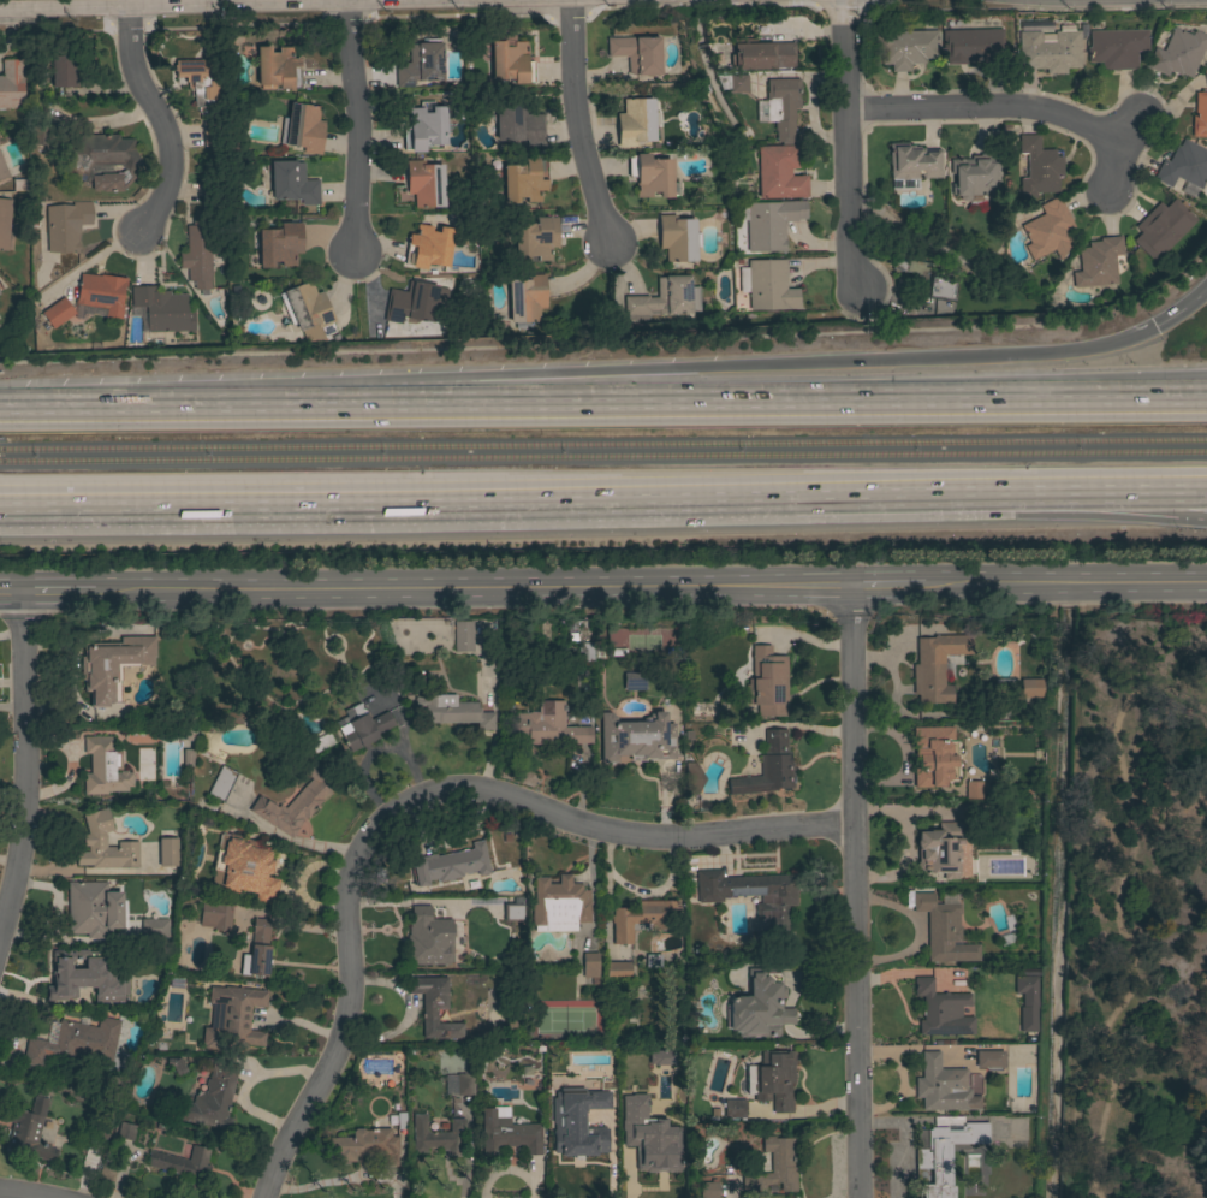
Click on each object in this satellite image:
road: (570, 0)
road: (167, 5)
road: (311, 6)
building: (973, 46)
building: (906, 48)
building: (1117, 48)
building: (1048, 52)
building: (1178, 53)
building: (636, 54)
building: (761, 54)
building: (511, 60)
building: (418, 65)
building: (71, 69)
building: (277, 69)
building: (1206, 75)
building: (733, 82)
building: (11, 83)
building: (204, 95)
building: (781, 107)
road: (1003, 107)
building: (1200, 114)
road: (157, 120)
building: (635, 121)
building: (517, 123)
road: (572, 124)
building: (303, 127)
road: (350, 127)
building: (424, 127)
road: (1125, 132)
building: (40, 135)
road: (845, 147)
building: (100, 160)
building: (911, 164)
building: (1184, 165)
building: (1037, 167)
building: (2, 171)
building: (779, 173)
building: (650, 176)
building: (974, 176)
building: (523, 180)
building: (292, 183)
building: (426, 183)
building: (209, 192)
building: (4, 223)
building: (769, 223)
building: (65, 226)
building: (1161, 227)
building: (1048, 230)
building: (535, 238)
building: (677, 238)
building: (280, 244)
building: (428, 247)
building: (198, 250)
building: (1098, 262)
building: (924, 278)
building: (767, 285)
building: (0, 287)
building: (101, 292)
building: (525, 298)
building: (664, 298)
building: (414, 303)
building: (307, 307)
building: (160, 310)
road: (1181, 312)
building: (57, 313)
road: (755, 364)
road: (1179, 407)
road: (180, 408)
road: (727, 408)
road: (1179, 409)
road: (1123, 410)
railway: (603, 445)
railway: (603, 456)
road: (1179, 487)
road: (1144, 488)
road: (999, 490)
road: (432, 496)
road: (1035, 504)
road: (1064, 586)
road: (886, 588)
road: (471, 591)
road: (10, 593)
road: (57, 593)
building: (463, 636)
building: (578, 650)
building: (112, 666)
building: (935, 666)
building: (632, 681)
building: (767, 683)
building: (1004, 684)
building: (1030, 688)
building: (706, 708)
building: (446, 711)
building: (233, 718)
building: (361, 726)
building: (547, 726)
road: (495, 728)
building: (636, 737)
building: (322, 742)
building: (933, 755)
road: (25, 766)
building: (103, 767)
building: (768, 767)
building: (692, 779)
building: (221, 783)
building: (974, 790)
road: (412, 797)
building: (295, 801)
building: (105, 844)
building: (939, 849)
building: (167, 852)
building: (450, 865)
building: (244, 867)
building: (751, 894)
road: (852, 894)
road: (1116, 899)
building: (558, 905)
building: (94, 908)
building: (512, 912)
park: (1136, 912)
building: (215, 915)
building: (641, 919)
building: (154, 930)
building: (943, 930)
building: (428, 938)
building: (257, 950)
building: (652, 960)
building: (589, 965)
building: (617, 971)
building: (75, 973)
building: (1027, 1002)
building: (760, 1006)
building: (434, 1008)
building: (941, 1010)
building: (240, 1021)
building: (75, 1042)
building: (656, 1058)
building: (988, 1058)
building: (174, 1064)
building: (560, 1069)
building: (774, 1079)
building: (458, 1084)
building: (943, 1086)
building: (210, 1098)
building: (603, 1099)
building: (733, 1108)
building: (100, 1129)
building: (28, 1131)
building: (126, 1132)
building: (506, 1132)
building: (436, 1135)
building: (577, 1138)
building: (654, 1139)
building: (920, 1140)
building: (364, 1145)
building: (946, 1152)
building: (183, 1166)
building: (774, 1167)
building: (707, 1190)

